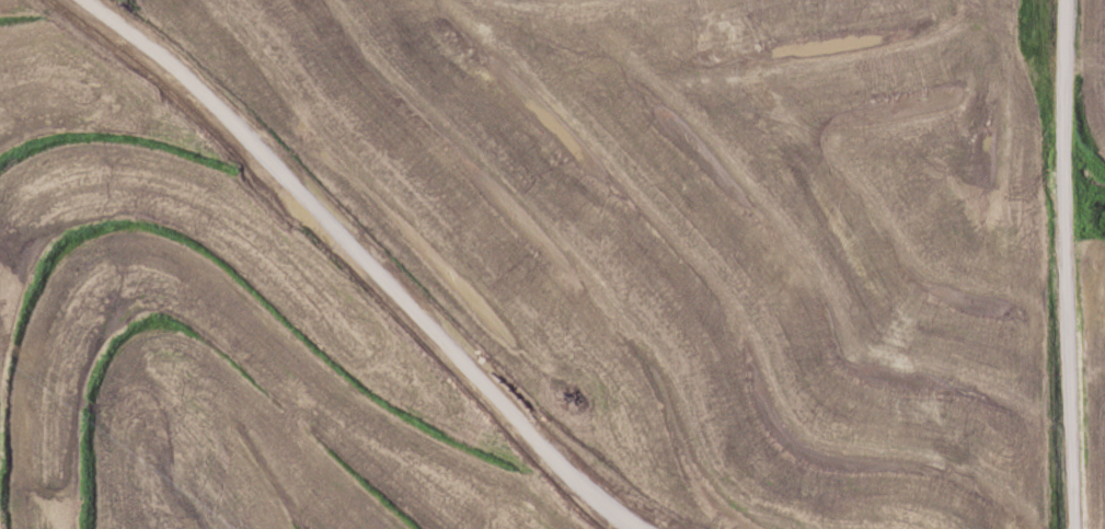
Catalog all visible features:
road: (1070, 264)

